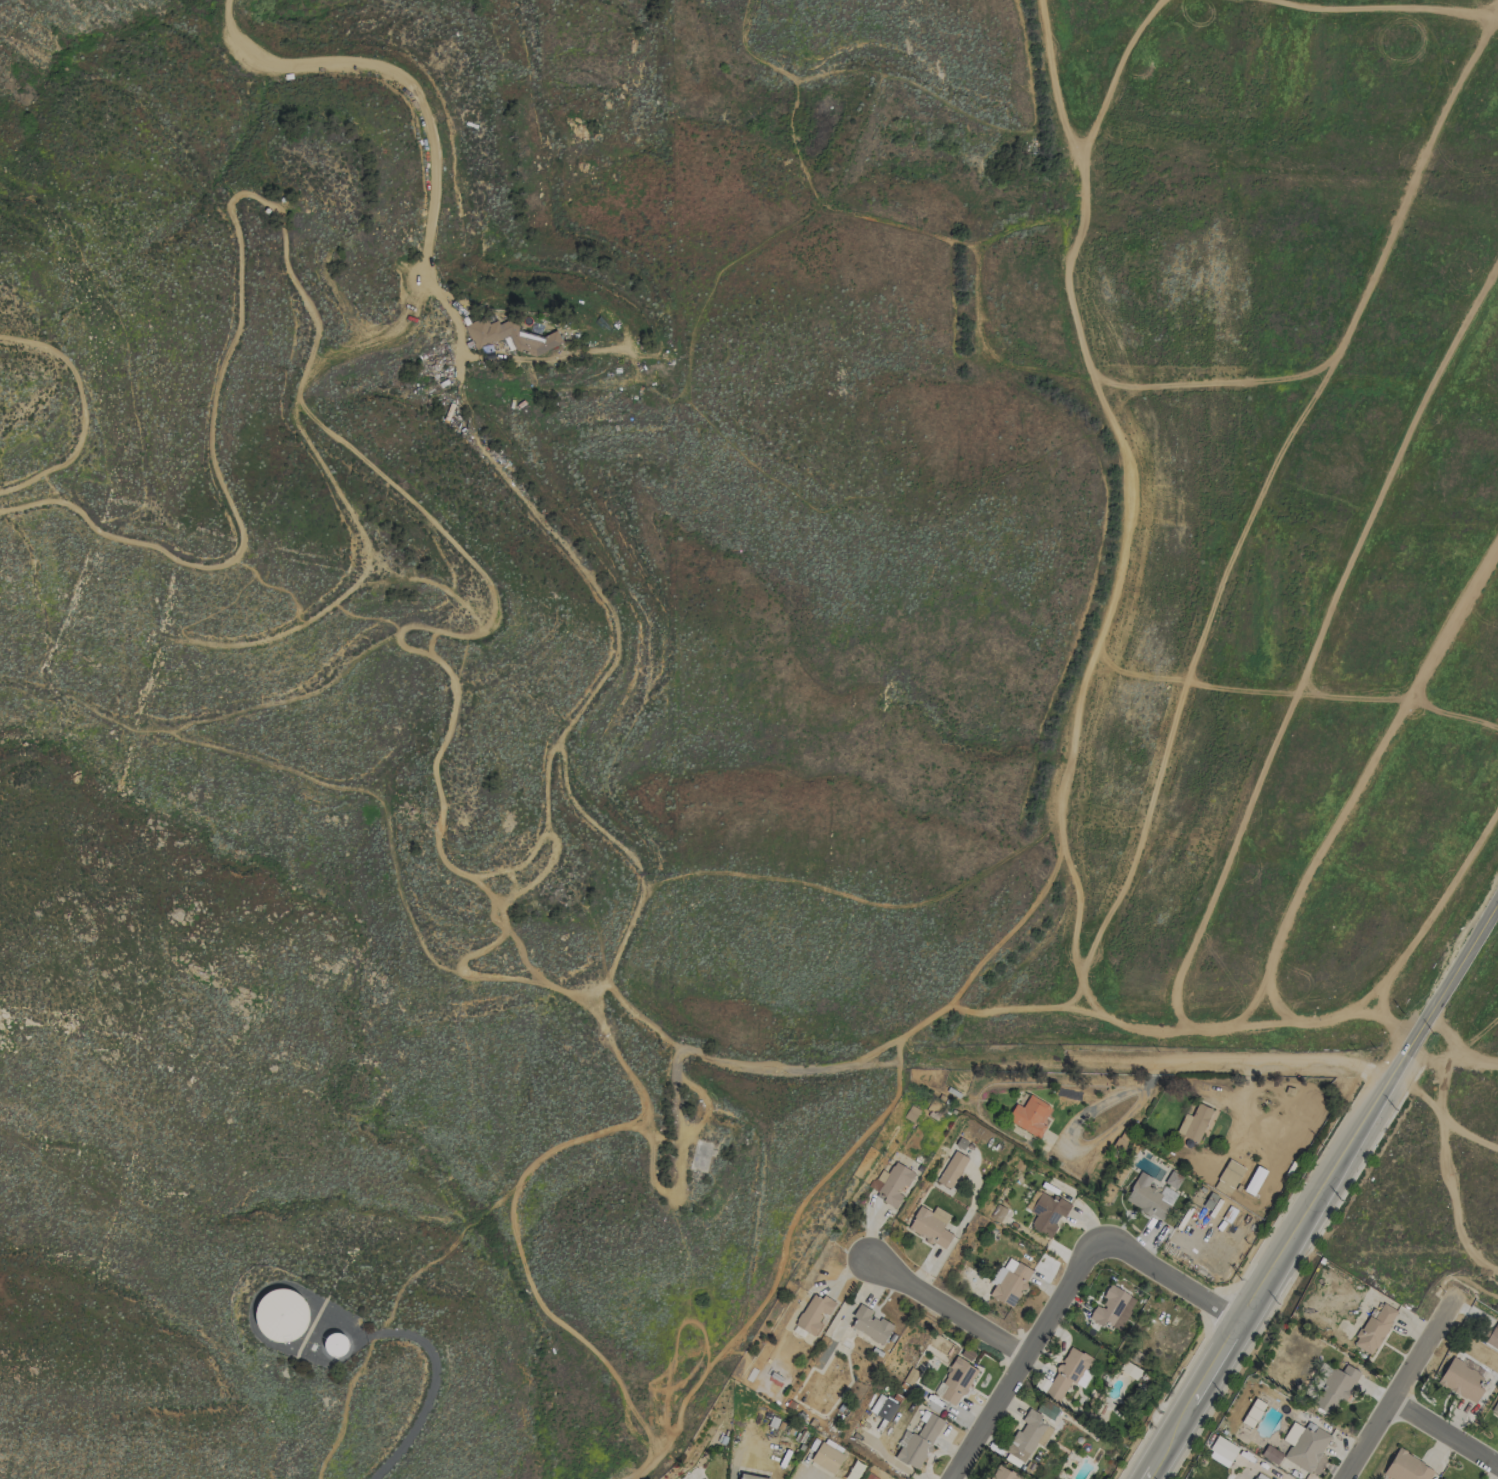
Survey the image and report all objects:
road: (457, 330)
building: (509, 336)
road: (1233, 1062)
building: (1029, 1115)
building: (1194, 1123)
road: (1083, 1146)
building: (952, 1169)
building: (1230, 1173)
building: (1254, 1180)
building: (893, 1184)
building: (1223, 1187)
road: (1327, 1194)
building: (1150, 1197)
building: (1045, 1212)
building: (931, 1226)
building: (1009, 1281)
road: (1065, 1284)
road: (948, 1304)
building: (1112, 1308)
building: (813, 1313)
building: (283, 1314)
storage tank: (283, 1314)
building: (869, 1324)
building: (1374, 1329)
building: (337, 1343)
storage tank: (337, 1343)
road: (434, 1368)
building: (1068, 1372)
building: (1461, 1380)
building: (957, 1381)
building: (1041, 1384)
building: (1334, 1390)
road: (1395, 1391)
building: (883, 1407)
building: (1495, 1408)
road: (1443, 1434)
building: (1028, 1436)
building: (919, 1442)
building: (1307, 1448)
building: (1222, 1451)
building: (827, 1458)
building: (1406, 1467)
building: (1003, 1474)
building: (869, 1476)
building: (1259, 1476)
building: (750, 1477)

